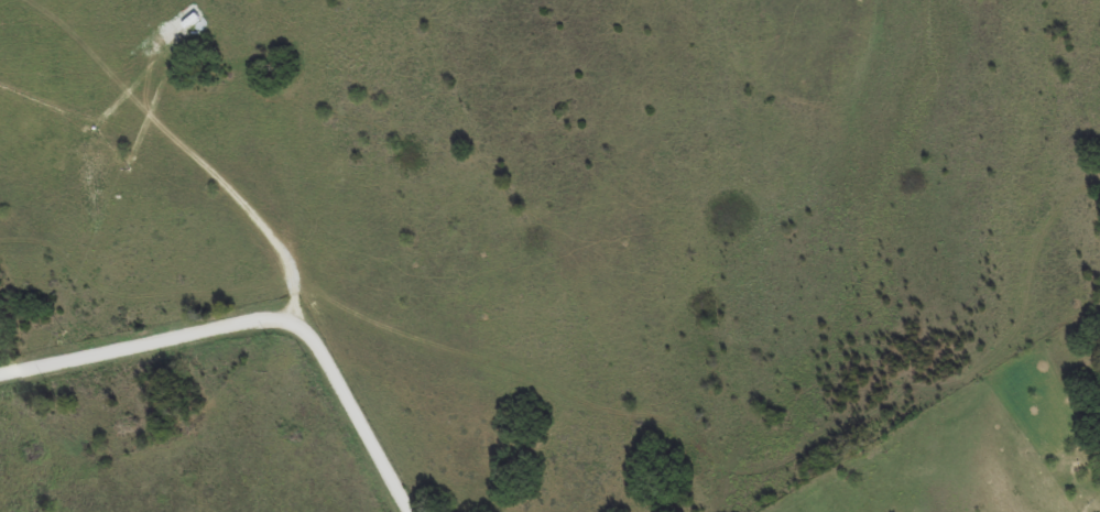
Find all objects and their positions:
road: (257, 319)

